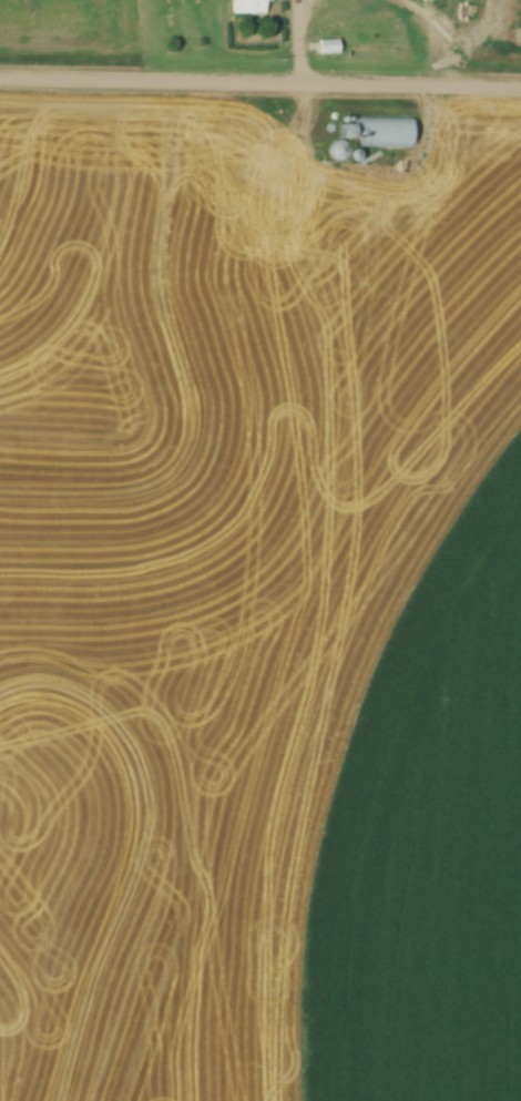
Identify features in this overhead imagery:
building: (248, 7)
crop: (508, 18)
road: (443, 34)
road: (299, 38)
road: (259, 84)
crop: (213, 543)
crop: (426, 839)

